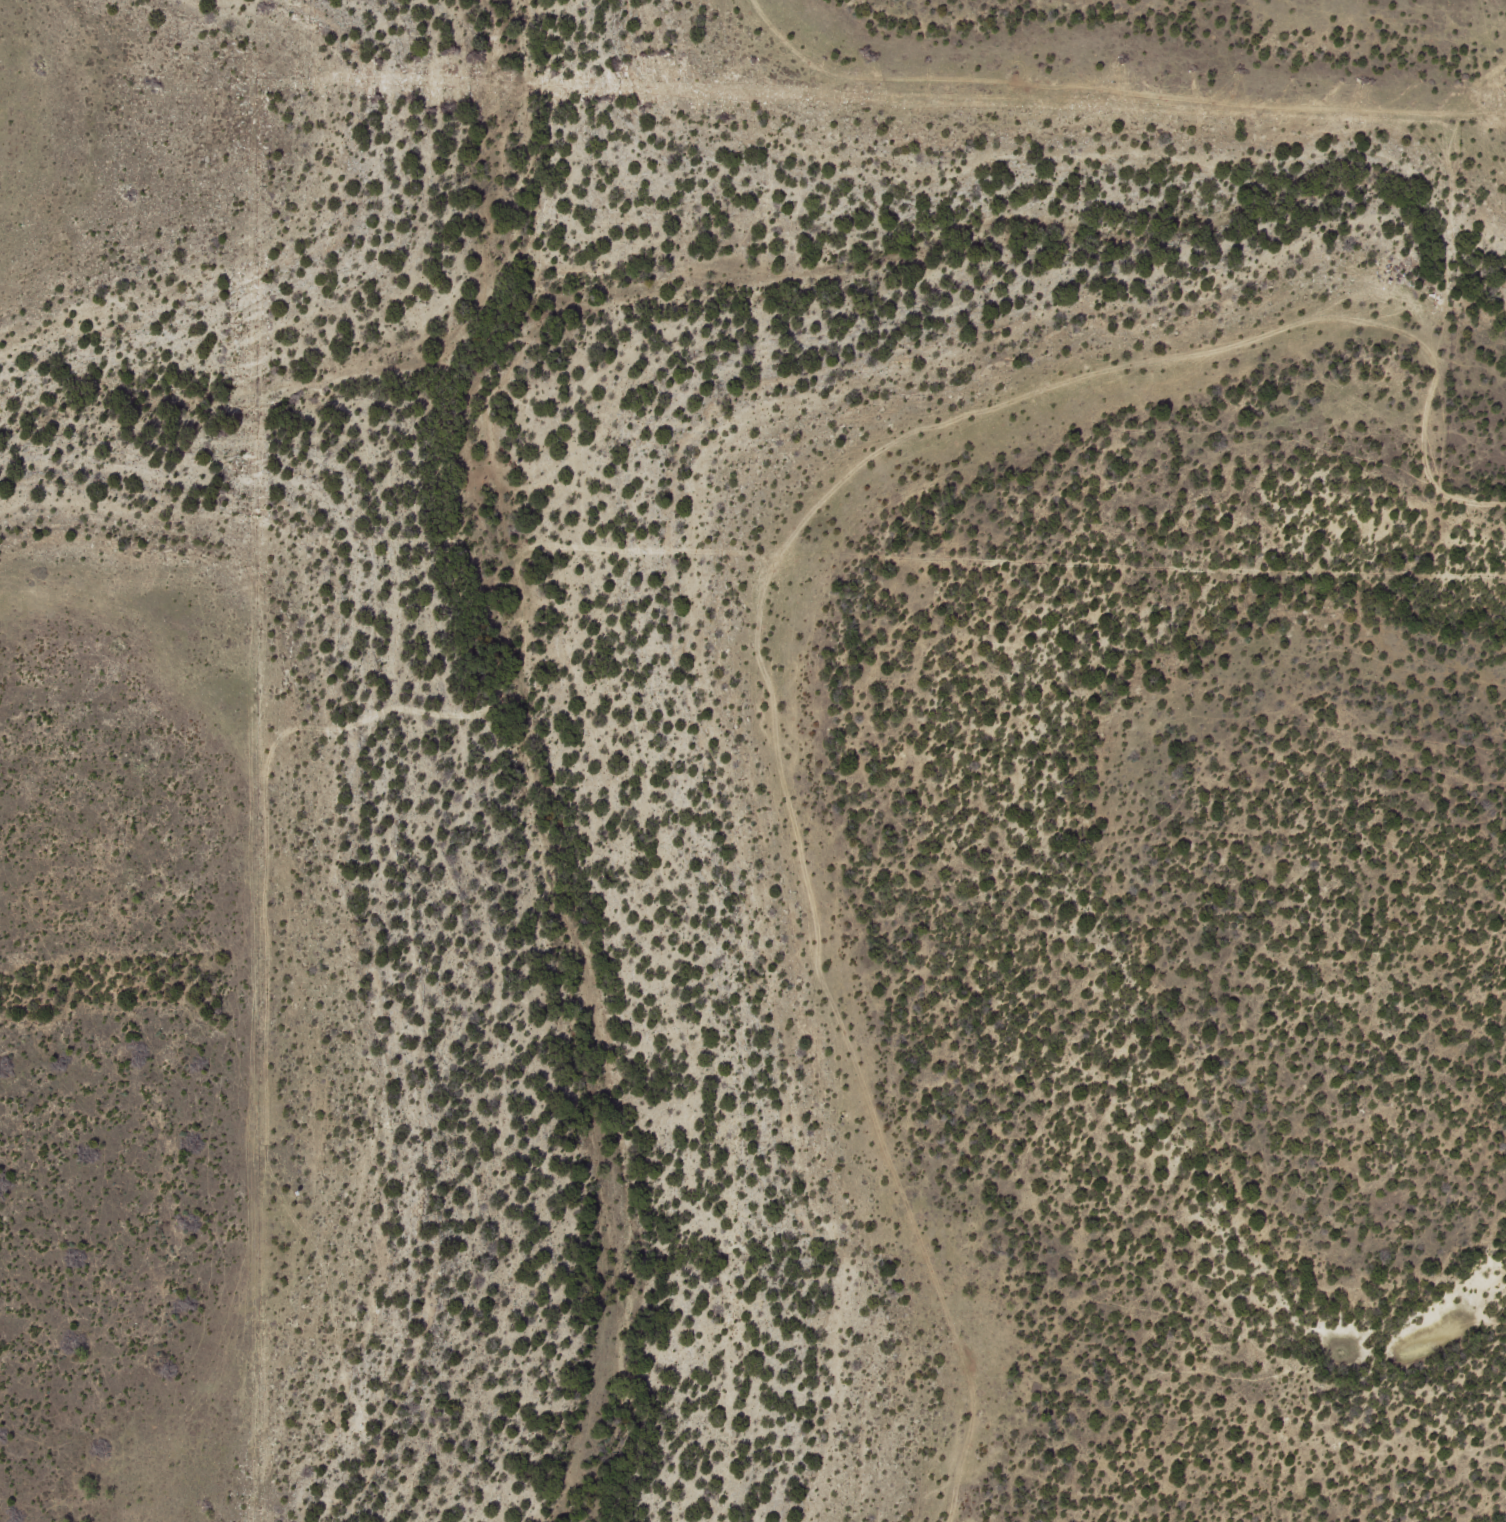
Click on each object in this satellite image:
road: (797, 636)

